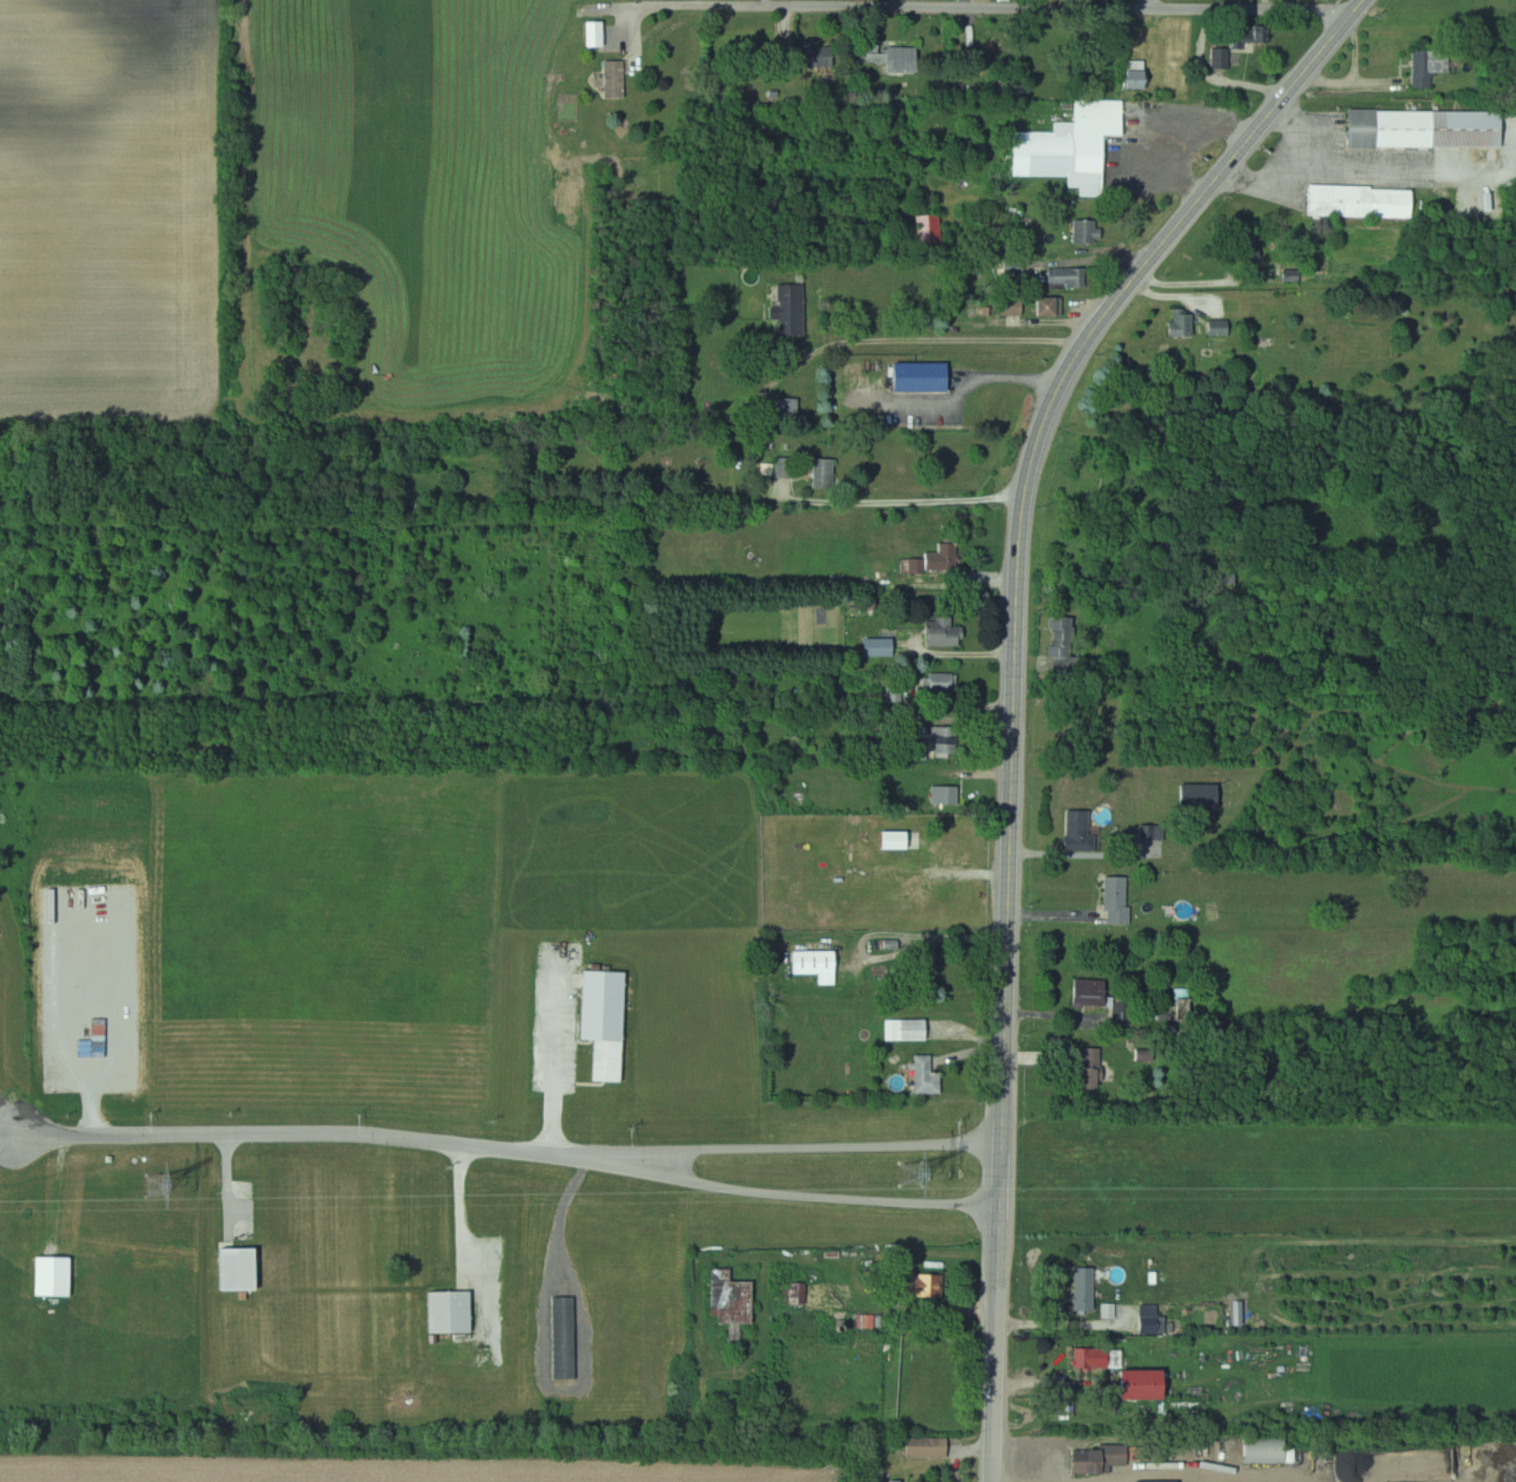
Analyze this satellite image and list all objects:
road: (1148, 4)
road: (1001, 9)
building: (1253, 35)
building: (817, 56)
building: (893, 57)
building: (1222, 58)
building: (1432, 64)
building: (1139, 75)
building: (617, 79)
building: (1100, 118)
building: (1429, 129)
building: (1368, 202)
building: (932, 225)
building: (1089, 231)
building: (1069, 276)
building: (1053, 305)
building: (1010, 306)
building: (791, 310)
building: (1184, 323)
building: (1222, 327)
road: (906, 340)
building: (925, 376)
building: (826, 472)
road: (908, 510)
building: (936, 560)
building: (945, 632)
building: (1063, 639)
building: (881, 647)
road: (963, 653)
building: (944, 682)
road: (1016, 685)
building: (948, 741)
building: (946, 795)
building: (1202, 797)
building: (1081, 831)
building: (903, 840)
building: (1119, 899)
building: (820, 964)
building: (1092, 991)
building: (607, 1021)
building: (908, 1029)
building: (1094, 1062)
building: (928, 1076)
road: (555, 1095)
road: (8, 1116)
road: (283, 1131)
road: (802, 1147)
road: (576, 1150)
power tower: (912, 1175)
power tower: (159, 1186)
road: (774, 1192)
building: (242, 1270)
building: (928, 1285)
building: (1087, 1289)
building: (795, 1294)
building: (843, 1298)
building: (734, 1299)
building: (453, 1312)
building: (1154, 1324)
building: (566, 1338)
building: (1094, 1358)
building: (929, 1447)
building: (1269, 1450)
building: (1102, 1459)
road: (1196, 1470)
building: (1168, 1481)

